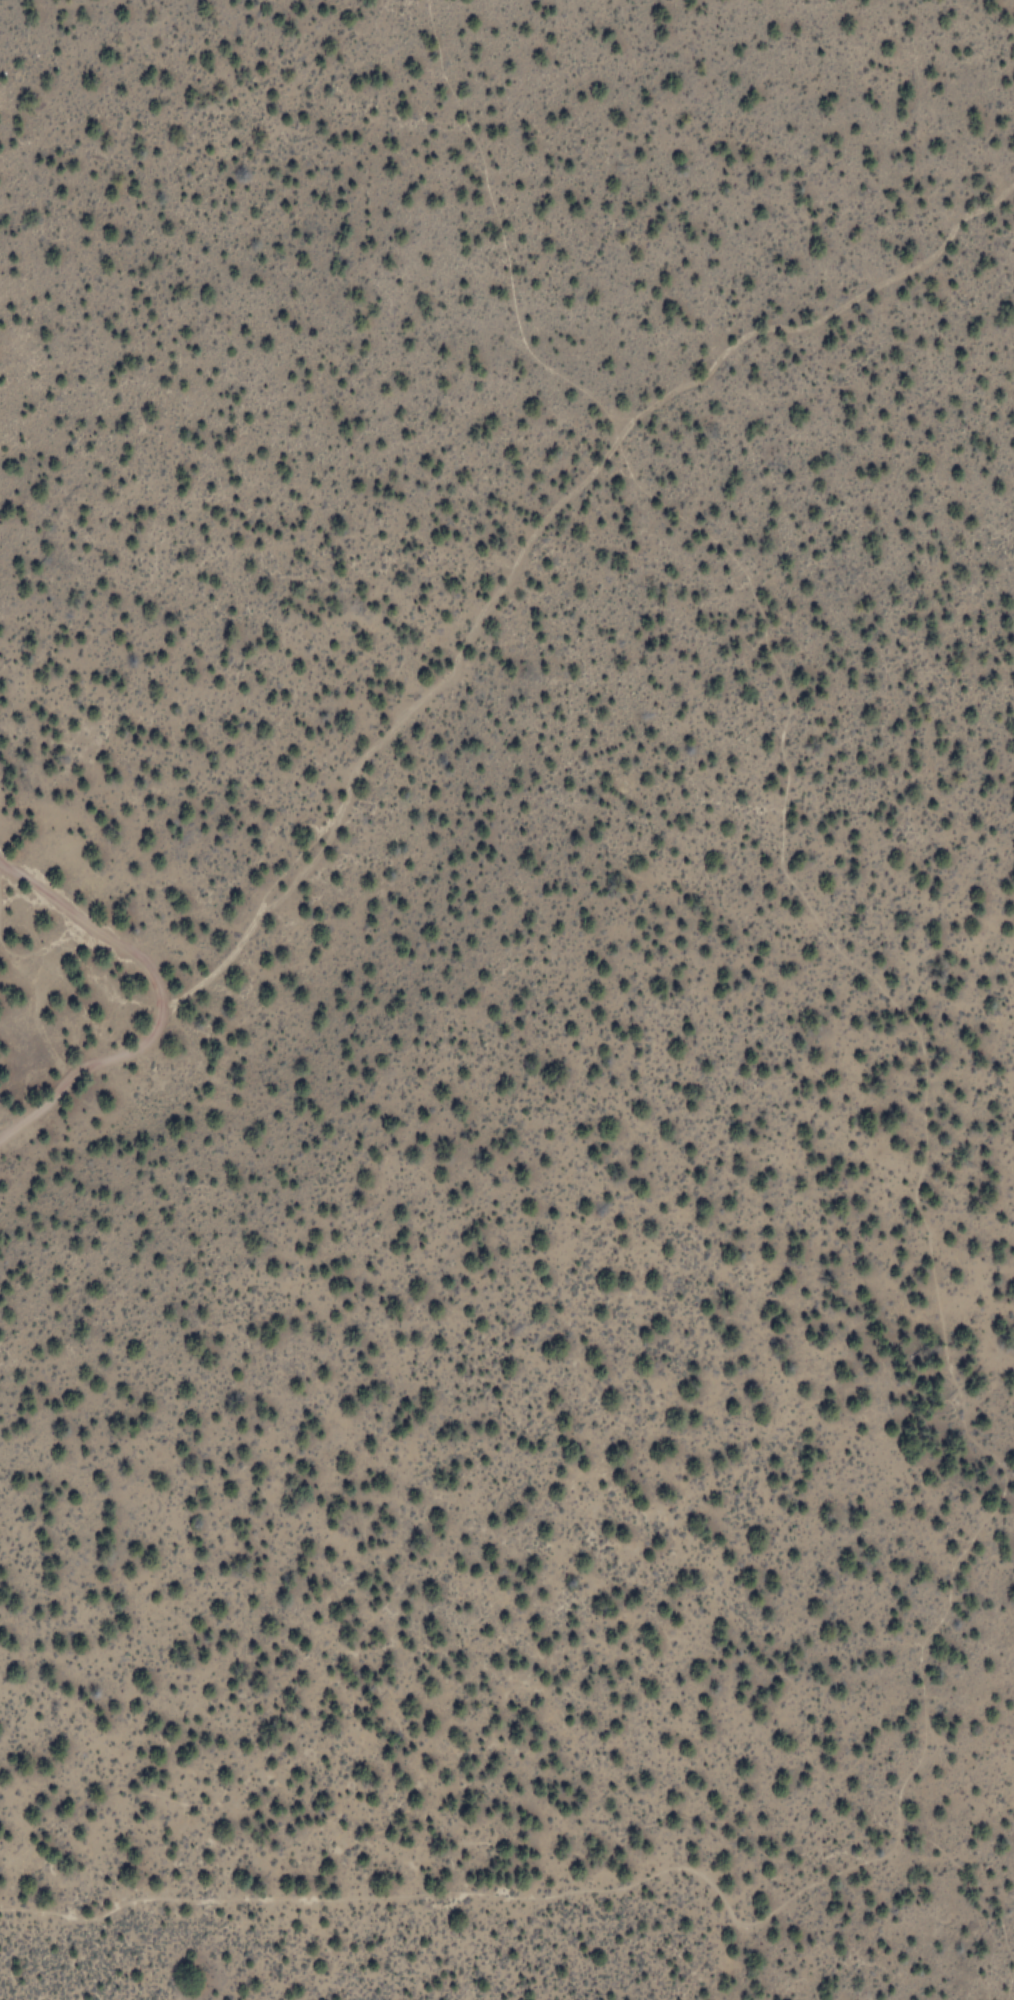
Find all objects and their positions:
road: (454, 610)

